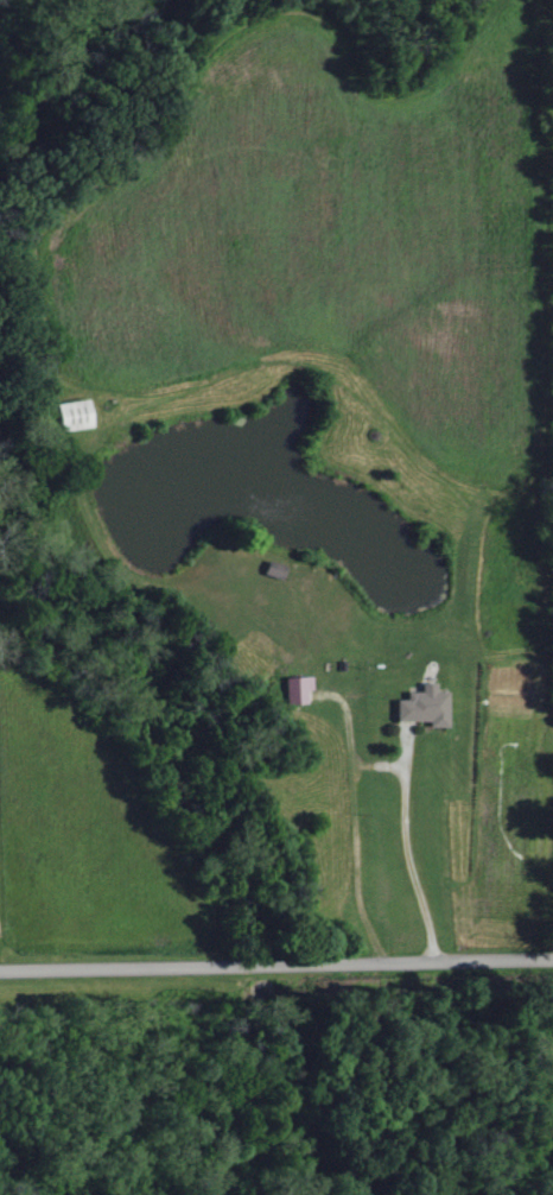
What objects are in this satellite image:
building: (66, 415)
building: (269, 569)
building: (293, 689)
building: (420, 706)
road: (406, 856)
road: (275, 965)

